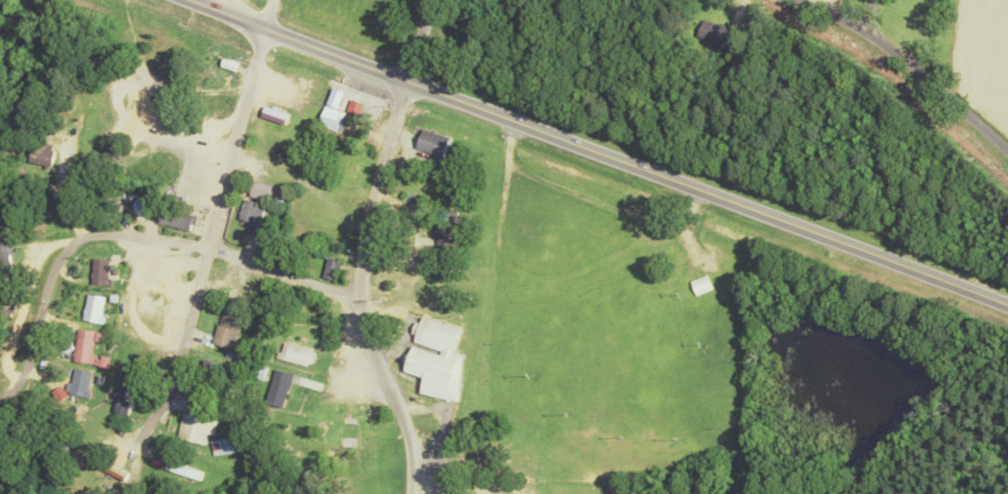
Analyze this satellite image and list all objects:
road: (267, 13)
building: (714, 34)
road: (419, 41)
road: (910, 65)
building: (347, 109)
building: (433, 143)
road: (599, 152)
building: (42, 154)
building: (355, 169)
building: (261, 191)
building: (140, 206)
building: (252, 212)
building: (176, 219)
building: (446, 230)
road: (211, 235)
road: (219, 250)
building: (333, 270)
building: (100, 273)
building: (702, 285)
road: (363, 290)
building: (7, 306)
building: (94, 309)
building: (309, 311)
road: (42, 313)
building: (228, 330)
building: (85, 346)
building: (297, 354)
building: (437, 359)
building: (210, 374)
building: (79, 383)
building: (280, 389)
building: (125, 401)
building: (196, 429)
building: (350, 432)
building: (183, 471)

